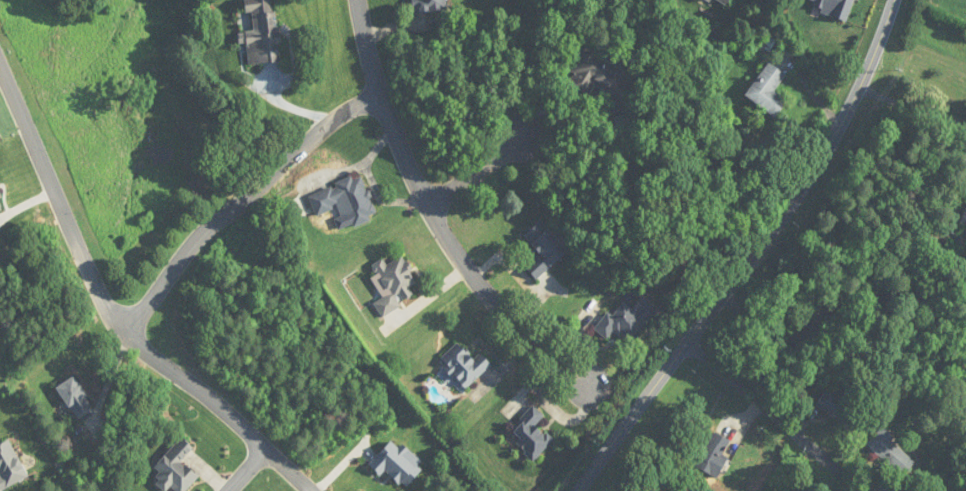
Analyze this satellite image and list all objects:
building: (724, 1)
building: (431, 5)
building: (837, 7)
building: (261, 33)
building: (598, 75)
building: (768, 91)
road: (476, 169)
building: (345, 202)
road: (244, 204)
road: (436, 217)
building: (543, 249)
road: (748, 255)
building: (394, 284)
road: (110, 311)
building: (814, 321)
building: (626, 323)
building: (464, 364)
building: (75, 396)
building: (838, 408)
road: (776, 414)
building: (531, 433)
building: (885, 446)
building: (713, 455)
building: (175, 468)
road: (246, 470)
building: (945, 490)

